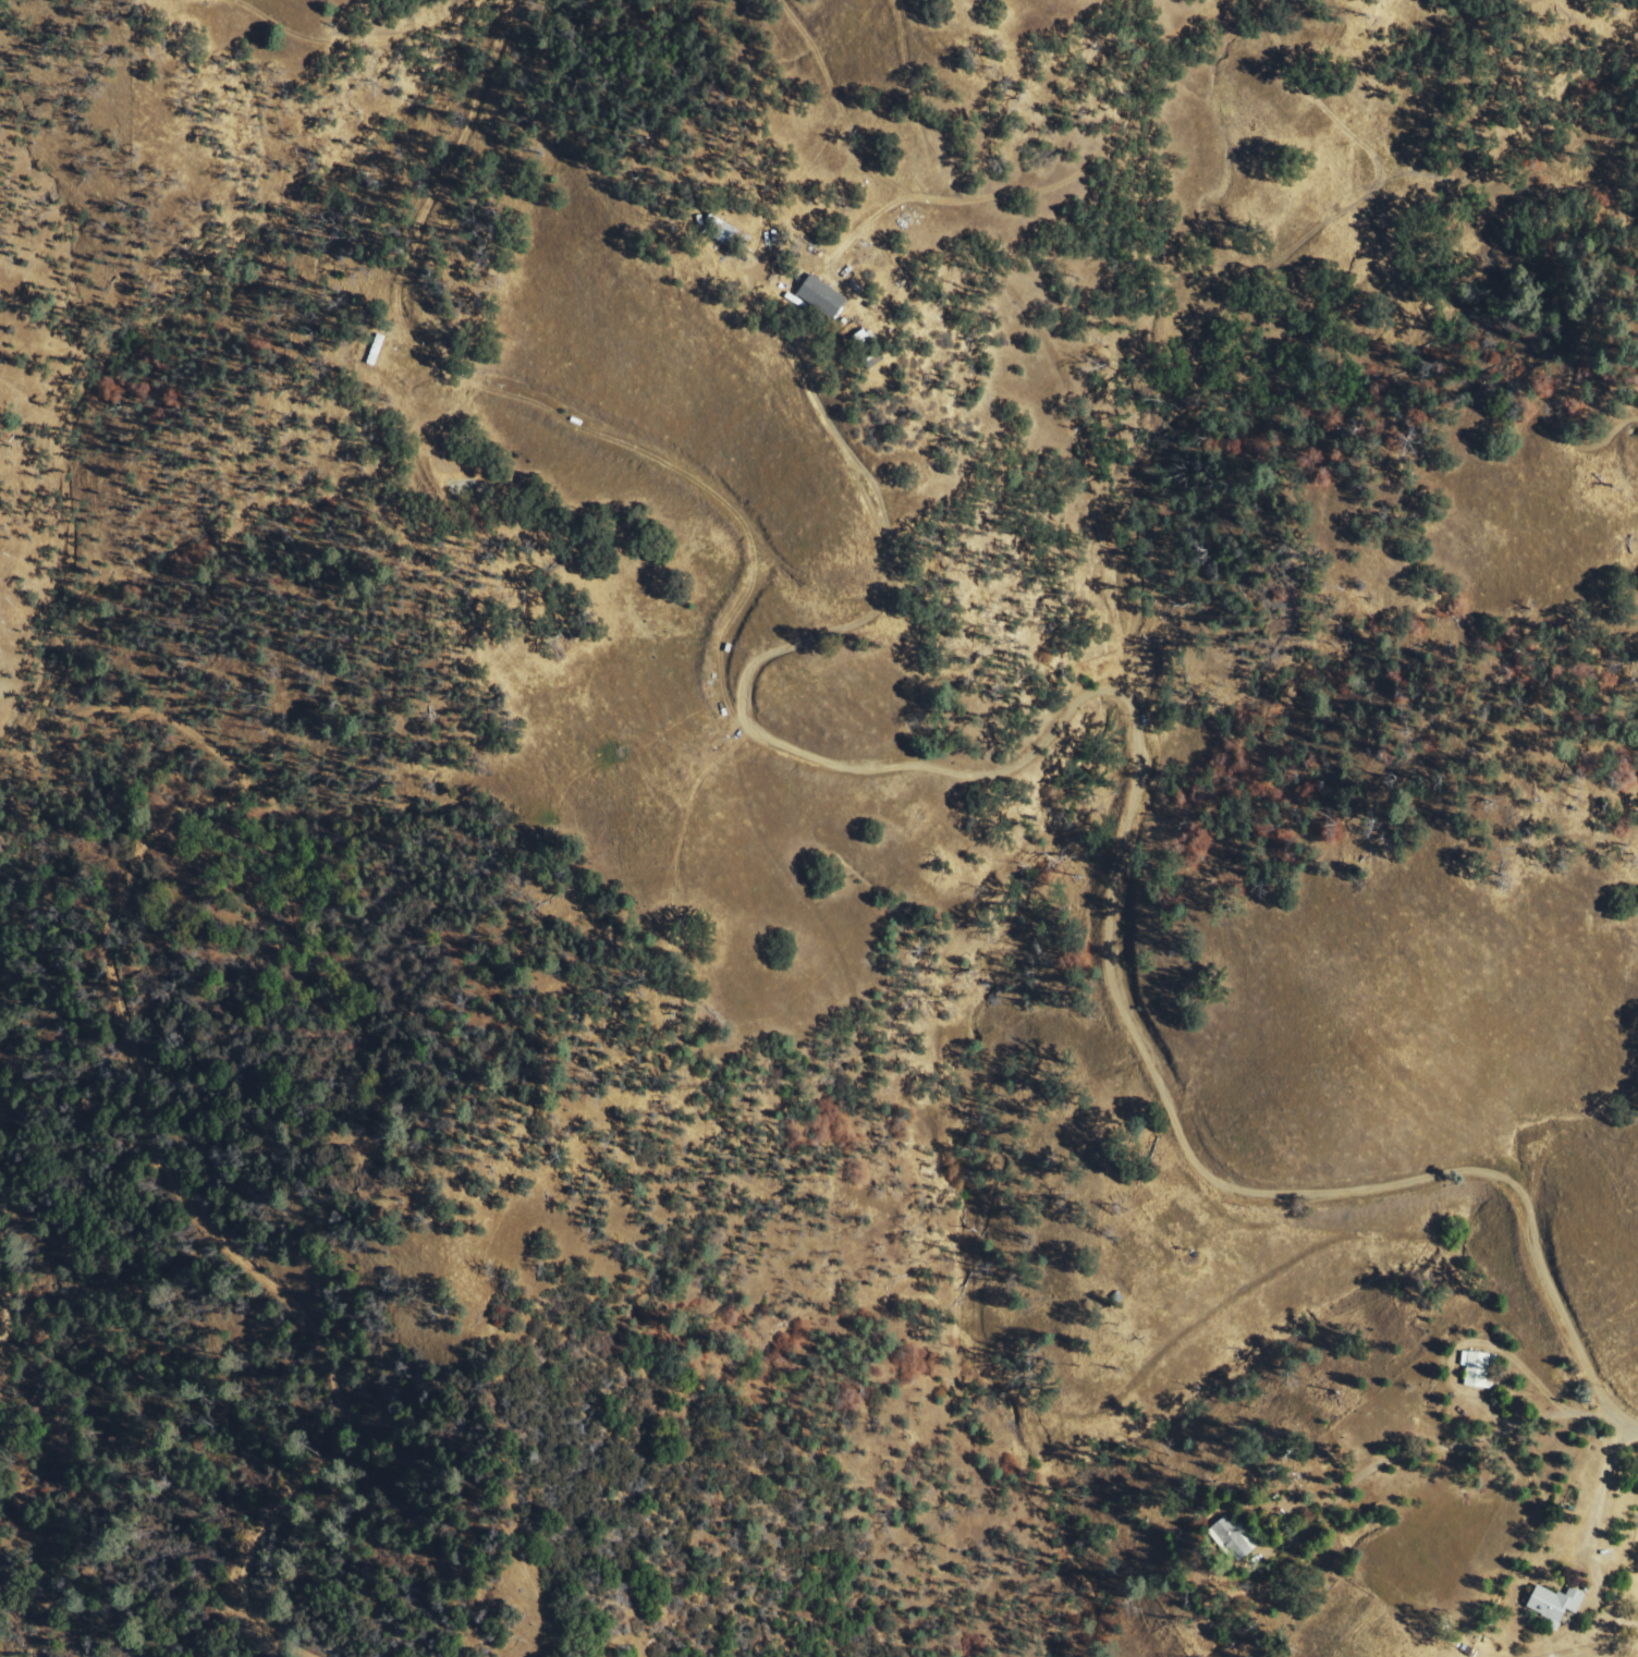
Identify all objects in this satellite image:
road: (1017, 3)
road: (1404, 62)
building: (732, 237)
building: (827, 297)
road: (766, 319)
road: (1142, 806)
road: (1457, 1442)
road: (1601, 1473)
building: (1235, 1538)
building: (1556, 1604)

